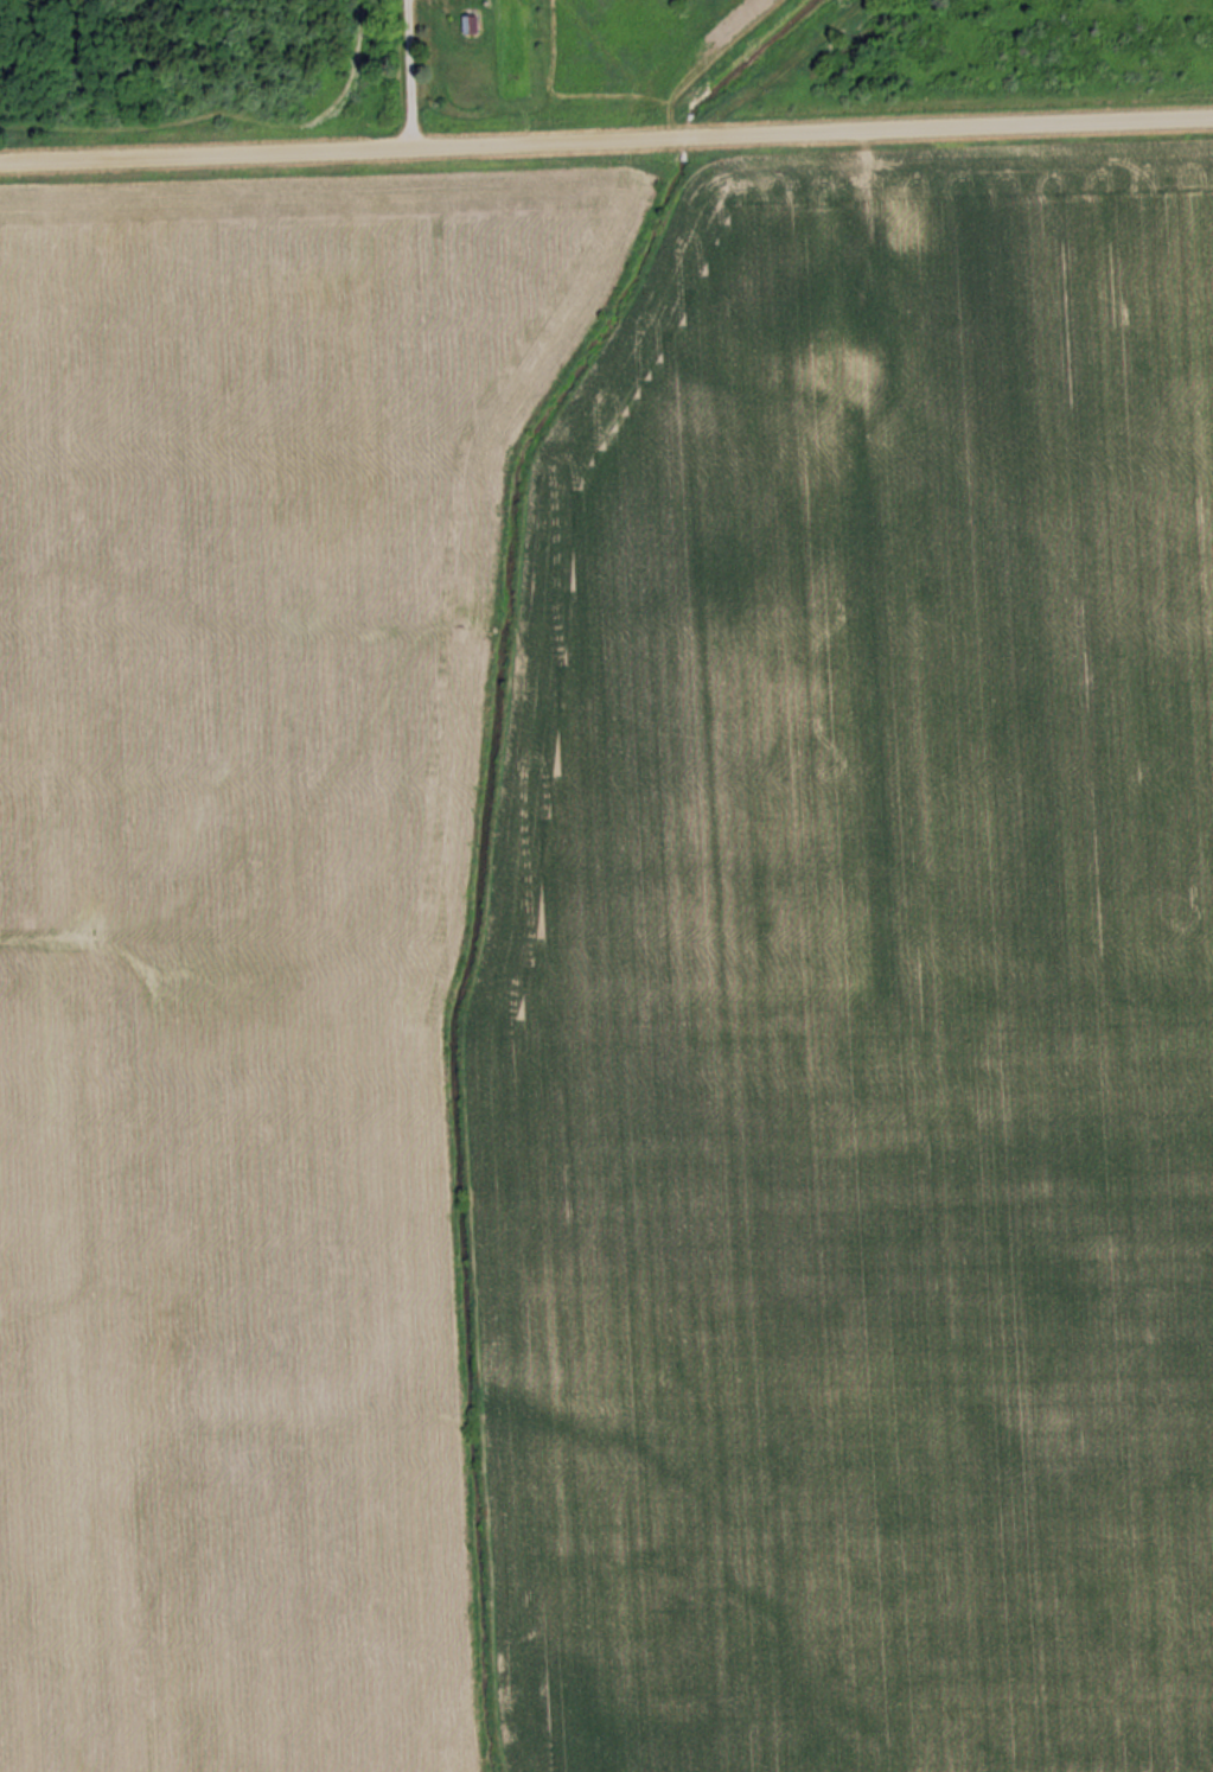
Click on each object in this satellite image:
road: (415, 69)
road: (606, 132)

